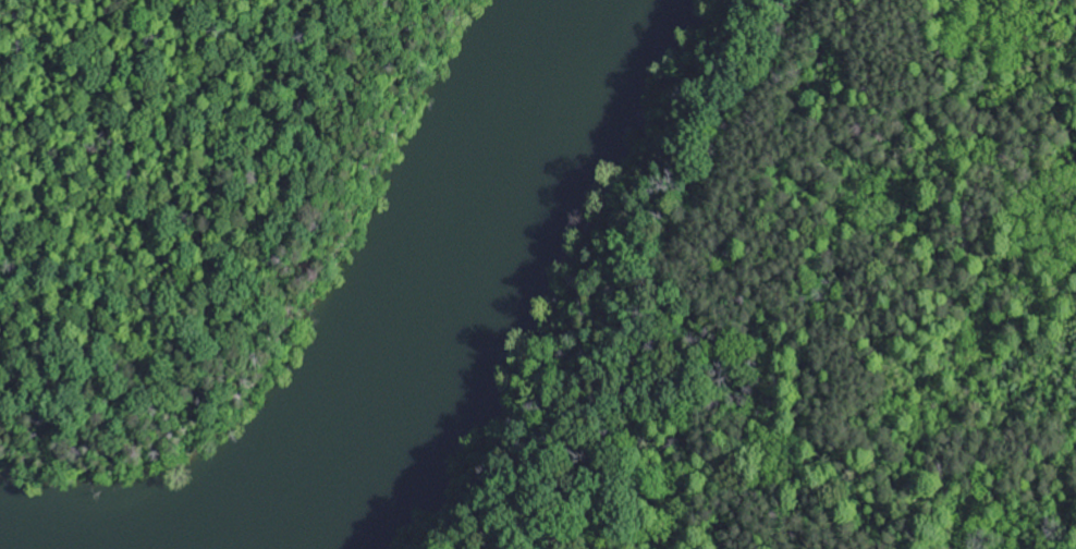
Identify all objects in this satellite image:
river: (421, 280)

